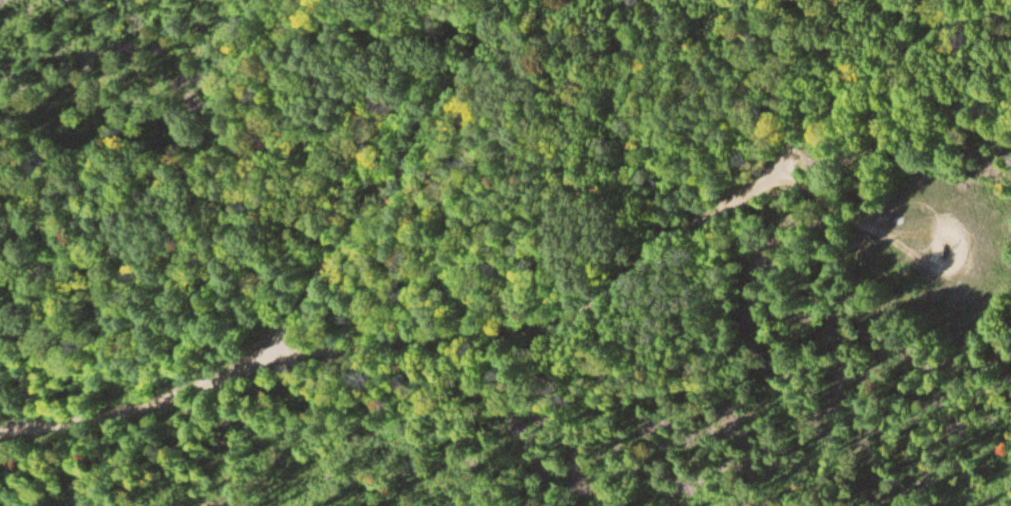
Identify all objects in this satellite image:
road: (391, 176)
petroleum well: (941, 244)
road: (555, 328)

